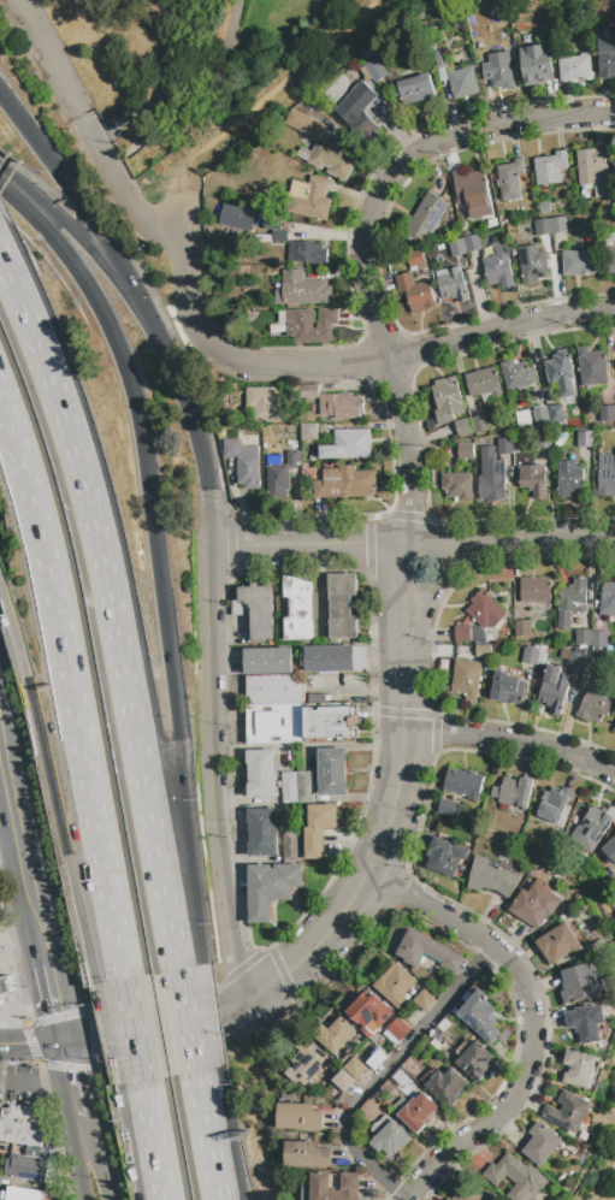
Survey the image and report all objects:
building: (526, 39)
building: (605, 52)
building: (536, 64)
building: (374, 69)
building: (575, 69)
building: (497, 70)
building: (463, 83)
road: (182, 87)
building: (414, 89)
road: (10, 106)
road: (259, 106)
building: (359, 111)
building: (304, 124)
building: (332, 160)
building: (549, 167)
building: (614, 167)
building: (592, 172)
building: (509, 178)
building: (471, 188)
road: (120, 190)
building: (309, 199)
building: (544, 207)
building: (236, 217)
building: (425, 218)
building: (272, 224)
building: (557, 225)
building: (543, 226)
building: (466, 234)
road: (101, 236)
building: (279, 236)
road: (374, 243)
building: (472, 243)
building: (457, 247)
building: (307, 252)
building: (609, 253)
road: (96, 255)
building: (416, 259)
building: (578, 262)
building: (532, 264)
building: (498, 266)
building: (451, 283)
building: (301, 289)
building: (415, 291)
road: (102, 314)
building: (280, 317)
building: (309, 325)
road: (333, 365)
building: (591, 366)
building: (561, 372)
building: (518, 374)
building: (484, 384)
building: (309, 391)
building: (447, 398)
building: (266, 404)
building: (341, 406)
building: (556, 413)
building: (607, 413)
building: (540, 416)
building: (524, 419)
building: (479, 422)
building: (463, 427)
building: (308, 432)
building: (230, 435)
building: (585, 439)
building: (348, 445)
building: (503, 445)
road: (200, 450)
building: (465, 451)
building: (292, 459)
building: (274, 460)
building: (515, 460)
building: (244, 462)
building: (491, 475)
building: (604, 475)
building: (570, 478)
building: (277, 480)
building: (533, 480)
building: (344, 484)
building: (457, 486)
road: (509, 539)
road: (306, 542)
building: (536, 590)
building: (607, 598)
building: (572, 602)
building: (341, 607)
road: (111, 608)
building: (300, 608)
building: (259, 609)
building: (485, 610)
building: (521, 628)
road: (13, 632)
building: (467, 633)
road: (406, 634)
building: (489, 637)
building: (583, 637)
building: (598, 639)
building: (483, 650)
building: (530, 656)
building: (330, 658)
building: (572, 658)
building: (268, 661)
building: (590, 663)
building: (466, 679)
road: (71, 688)
building: (507, 688)
building: (554, 688)
building: (274, 690)
building: (592, 708)
road: (173, 719)
building: (331, 721)
building: (276, 723)
building: (614, 728)
road: (2, 740)
road: (514, 741)
road: (2, 767)
road: (211, 772)
building: (332, 772)
building: (260, 773)
building: (463, 782)
building: (304, 787)
building: (289, 788)
building: (513, 792)
building: (554, 804)
building: (447, 808)
building: (591, 828)
road: (61, 829)
building: (318, 829)
building: (262, 833)
building: (290, 846)
building: (609, 850)
building: (445, 855)
road: (11, 865)
road: (24, 870)
building: (491, 877)
building: (607, 879)
building: (271, 887)
road: (359, 887)
building: (534, 905)
building: (558, 944)
building: (598, 945)
building: (427, 951)
building: (579, 982)
building: (7, 986)
building: (395, 986)
road: (233, 1000)
building: (424, 1000)
road: (53, 1004)
road: (188, 1013)
building: (368, 1013)
building: (480, 1015)
road: (197, 1017)
road: (187, 1019)
road: (532, 1022)
building: (586, 1022)
road: (132, 1029)
building: (396, 1031)
road: (106, 1034)
road: (107, 1034)
building: (337, 1035)
road: (30, 1042)
traffic signals: (63, 1042)
building: (473, 1058)
building: (375, 1059)
building: (307, 1065)
building: (351, 1065)
building: (579, 1069)
road: (384, 1071)
road: (35, 1081)
road: (70, 1081)
building: (343, 1082)
building: (445, 1086)
building: (415, 1111)
building: (568, 1111)
building: (298, 1117)
building: (22, 1128)
road: (81, 1133)
road: (207, 1135)
building: (388, 1137)
road: (152, 1140)
road: (136, 1142)
building: (540, 1145)
building: (36, 1152)
building: (306, 1155)
building: (52, 1166)
building: (25, 1168)
road: (99, 1170)
road: (78, 1172)
building: (515, 1176)
building: (327, 1187)
building: (53, 1192)
building: (22, 1194)
building: (467, 1194)
building: (447, 1199)

